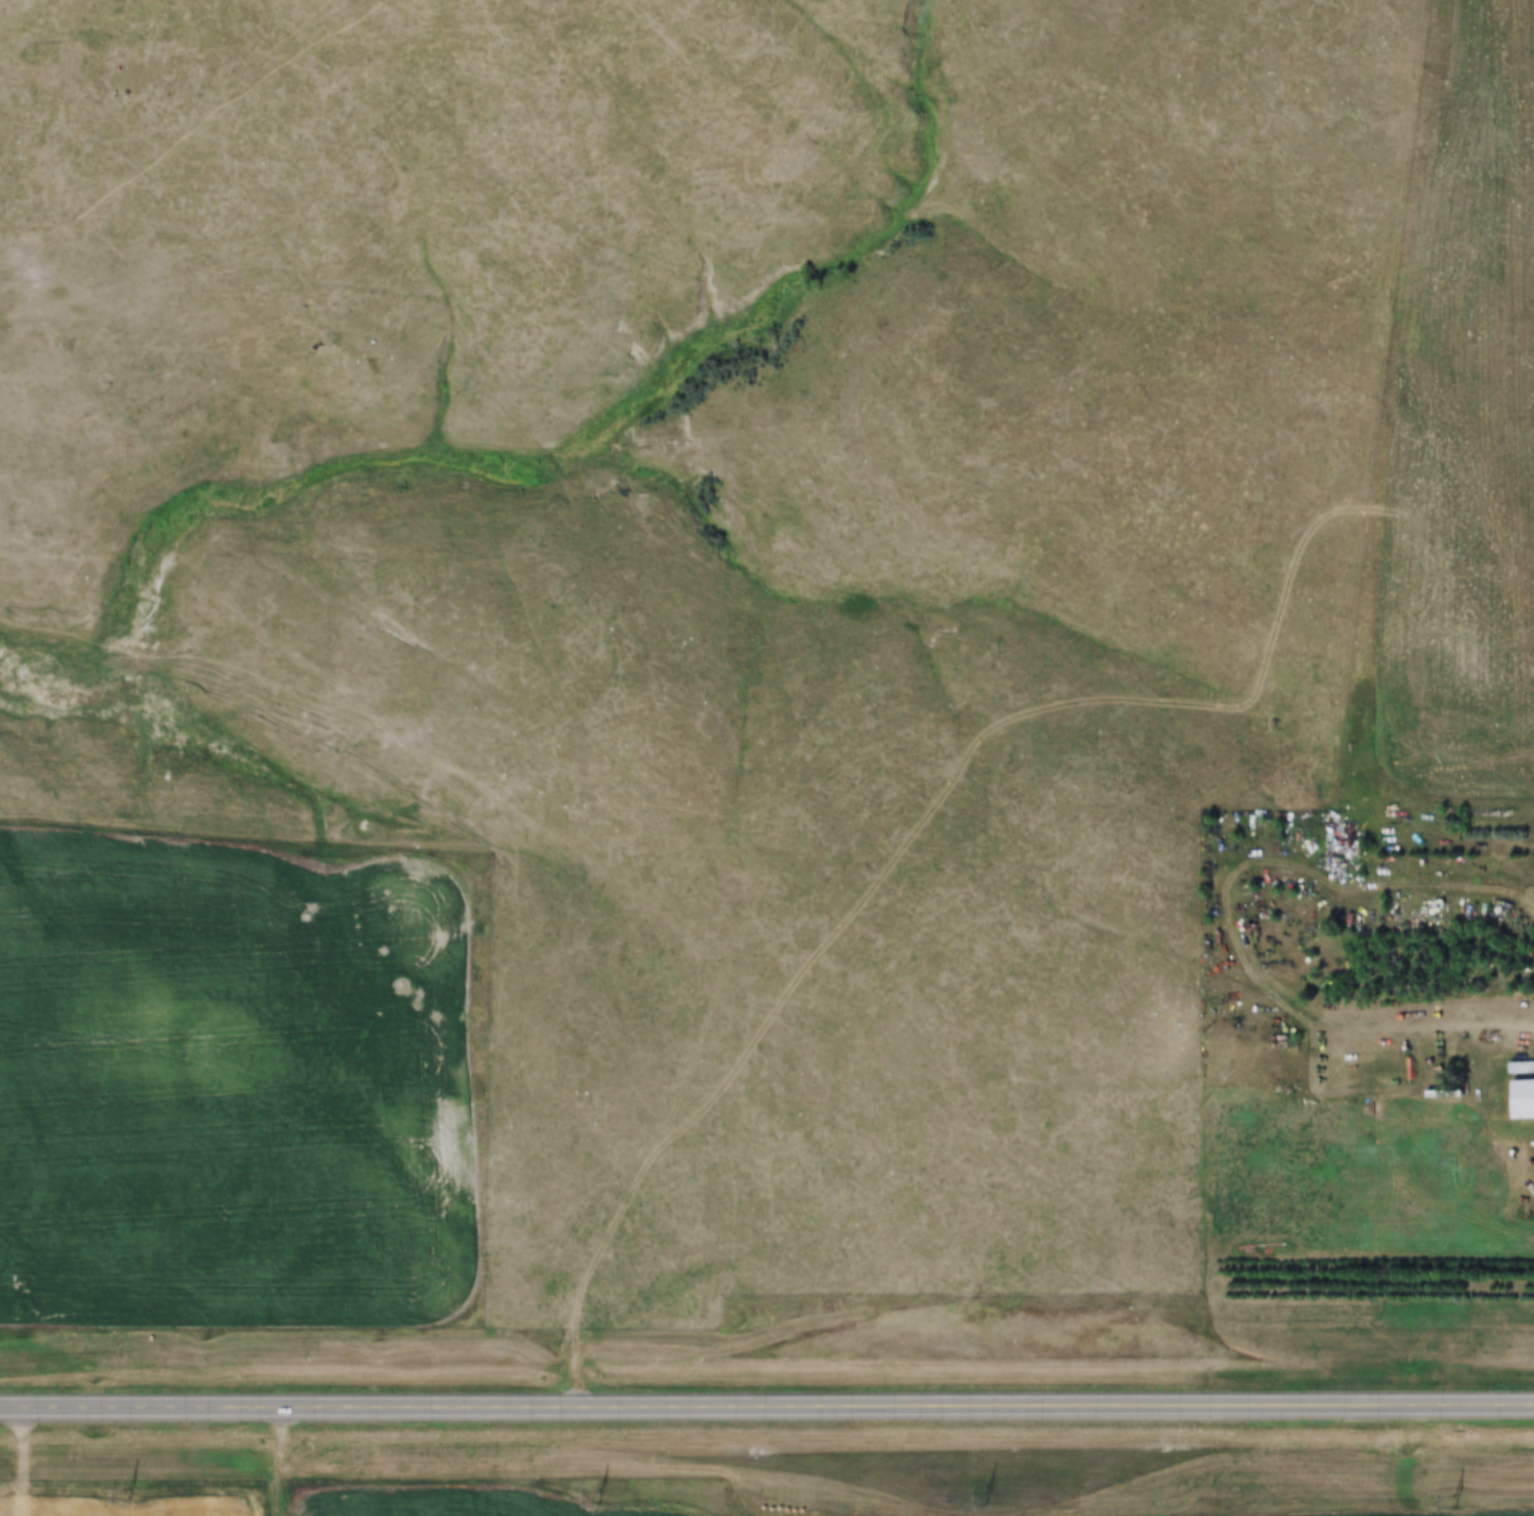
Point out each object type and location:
building: (1524, 1100)
road: (767, 1416)

